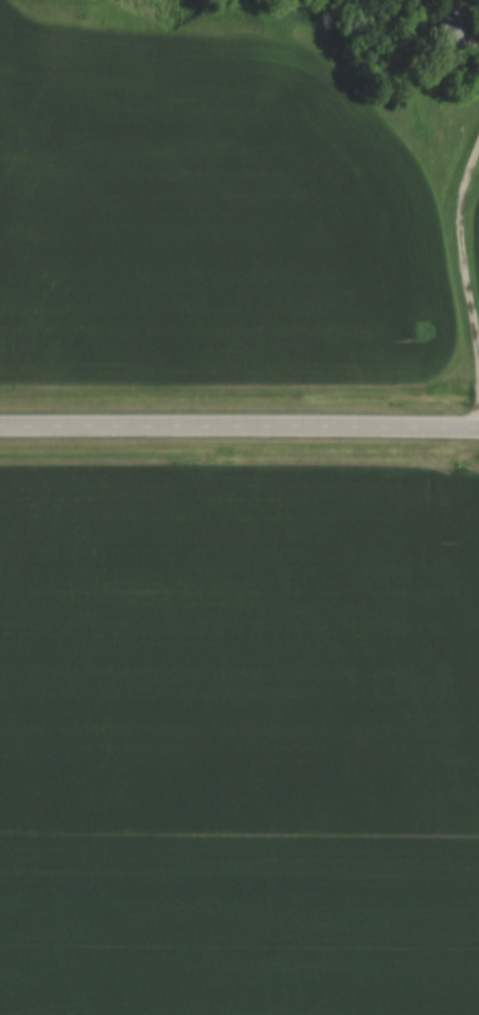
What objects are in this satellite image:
building: (445, 29)
road: (461, 262)
road: (239, 430)

